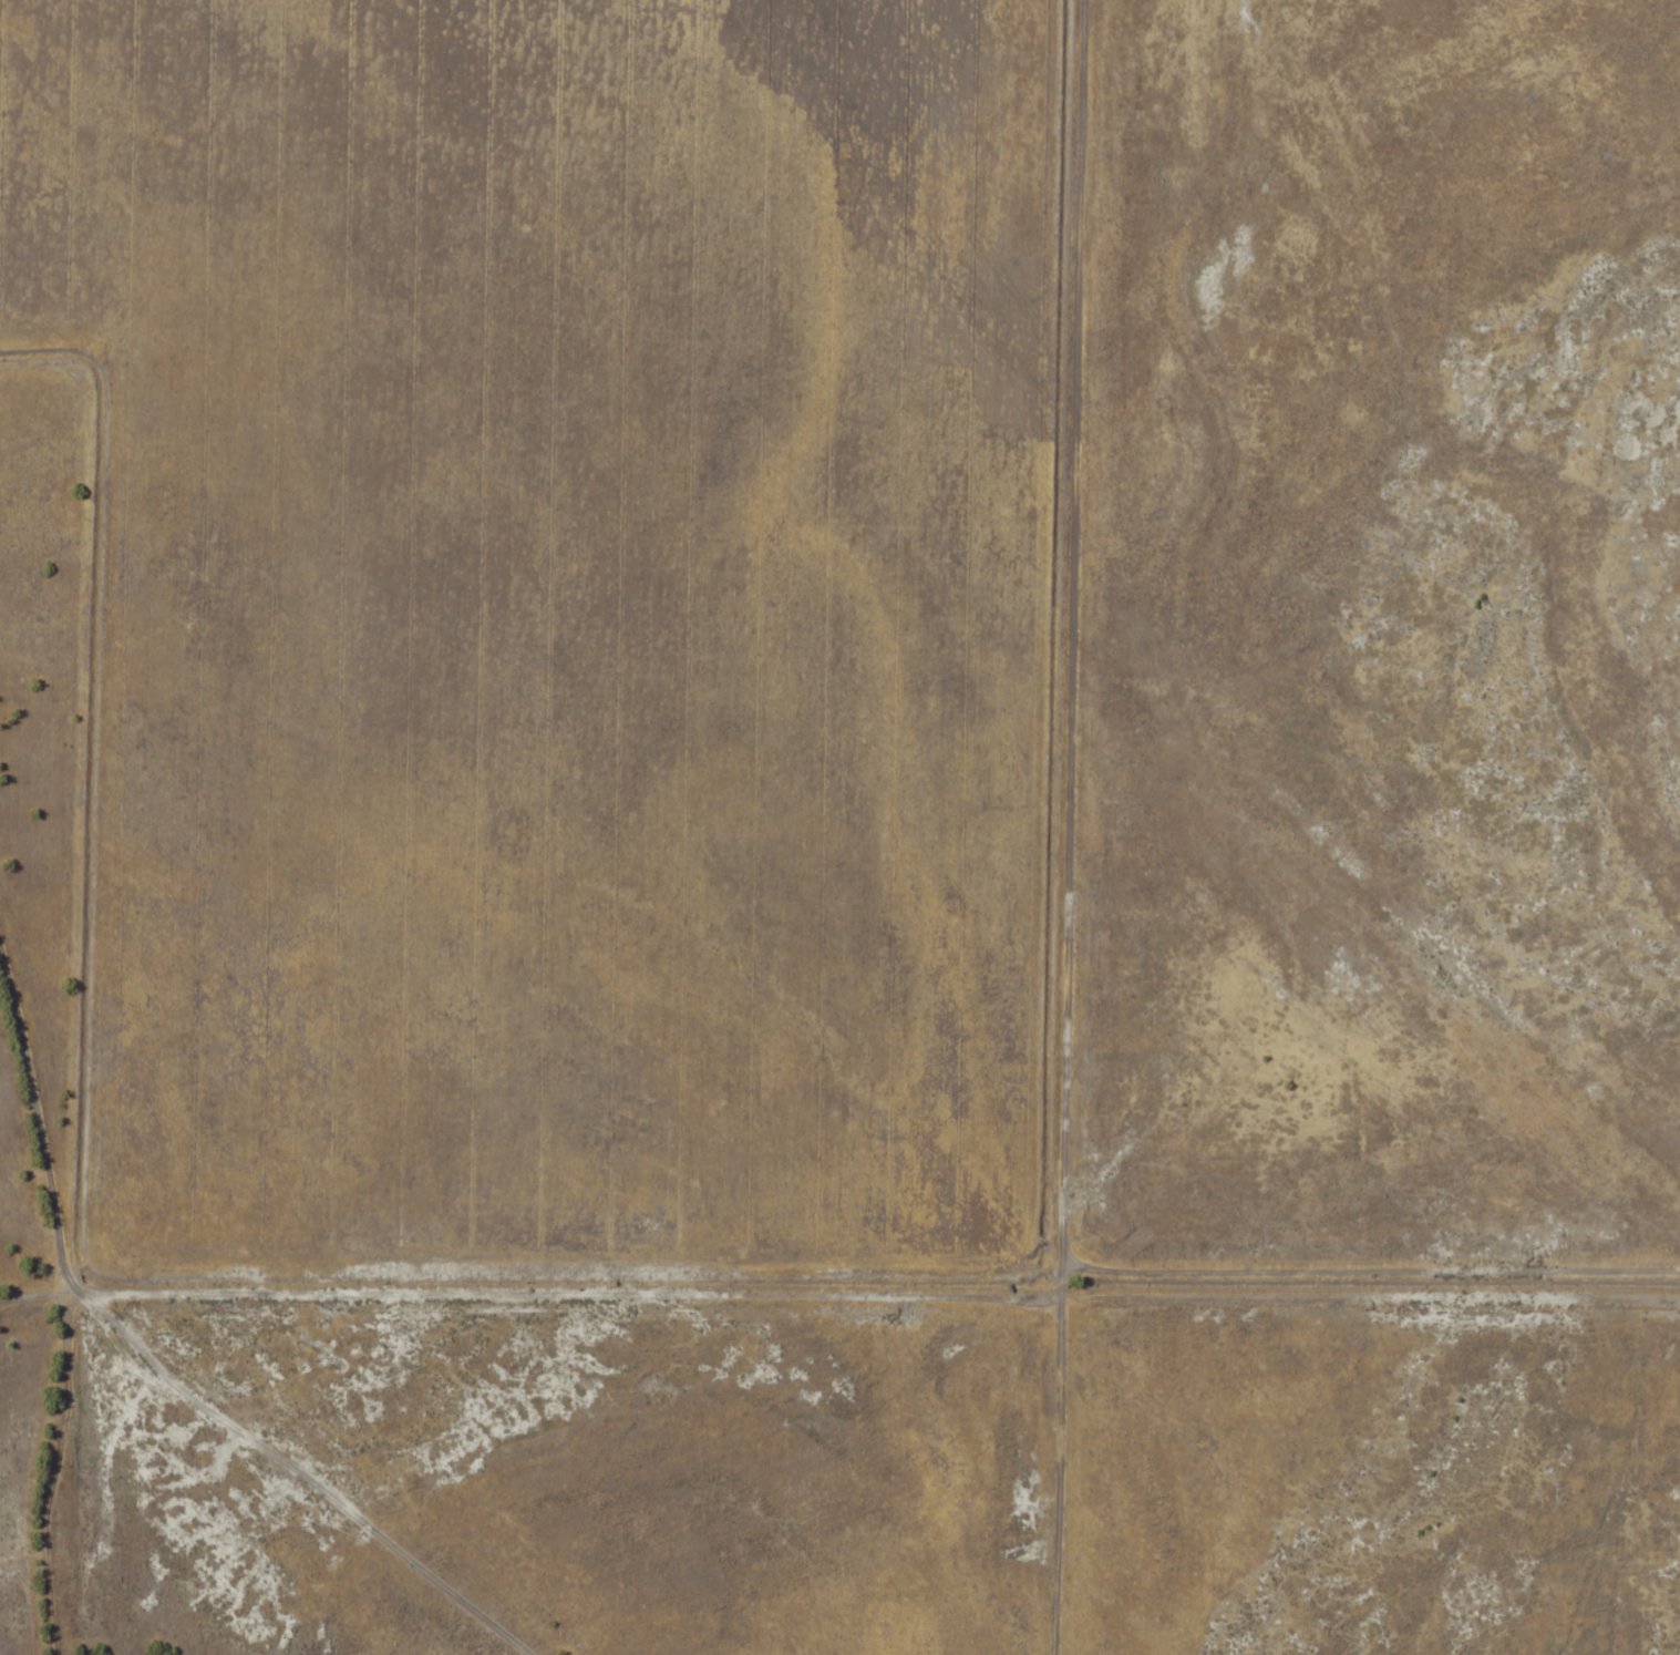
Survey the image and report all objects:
crop: (573, 614)
road: (1138, 740)
road: (569, 1243)

